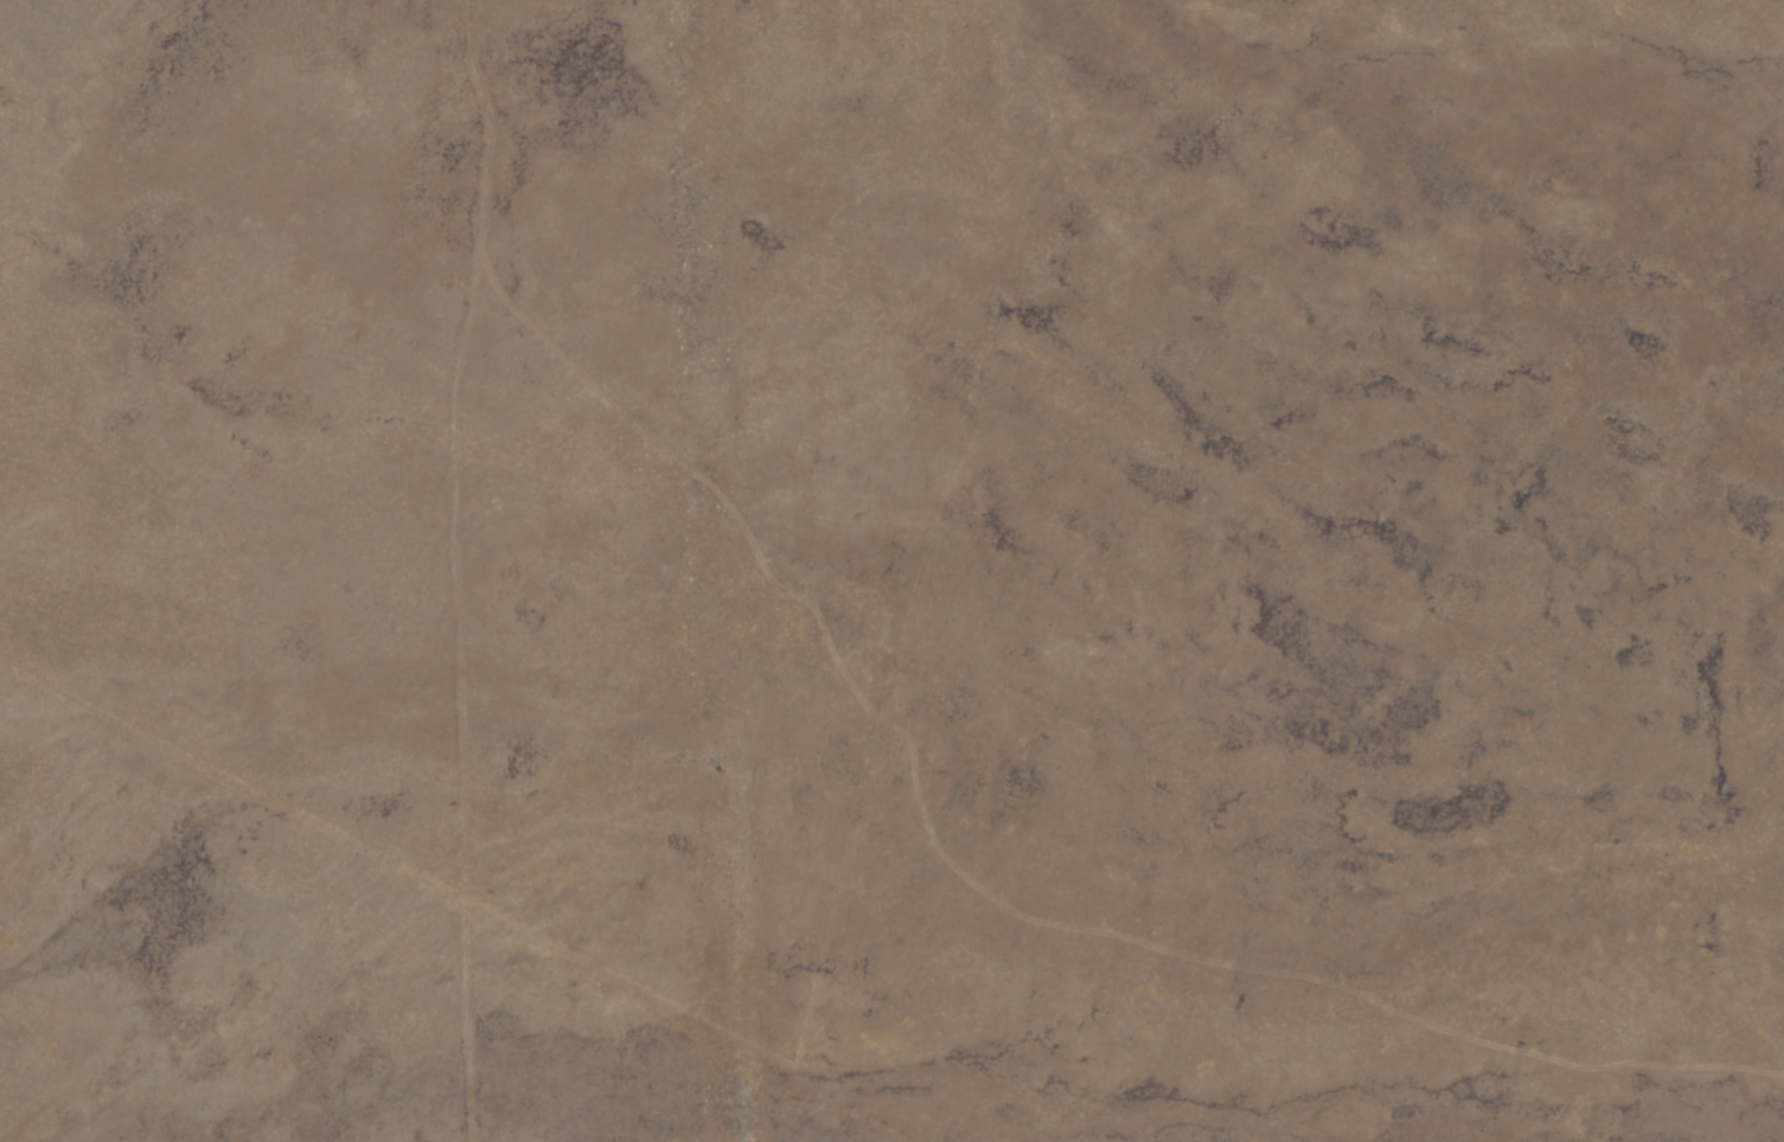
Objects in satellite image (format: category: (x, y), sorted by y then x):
road: (637, 643)

